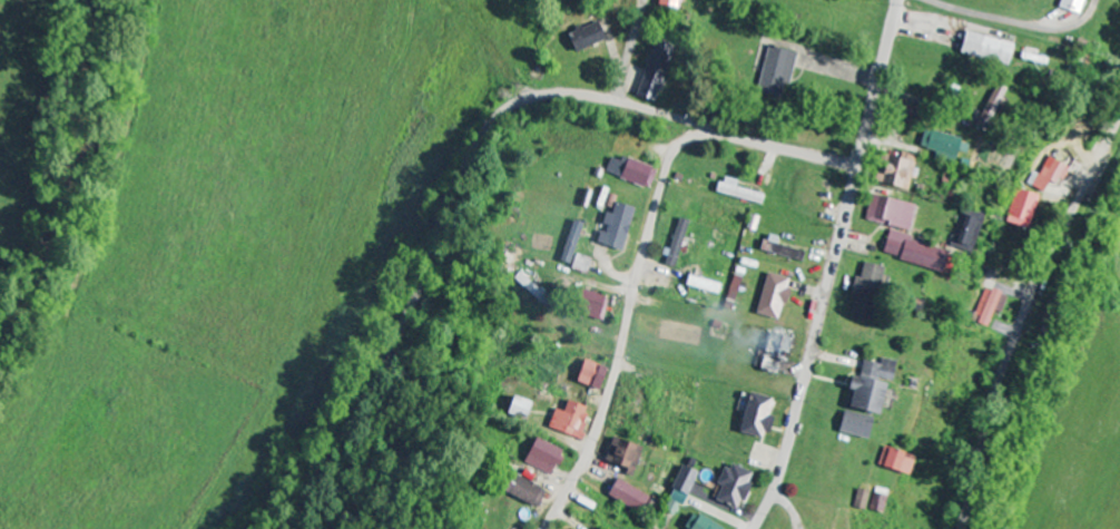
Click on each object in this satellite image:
building: (666, 3)
building: (1070, 6)
building: (584, 37)
building: (984, 48)
road: (630, 50)
building: (773, 71)
building: (654, 72)
building: (994, 102)
building: (942, 145)
road: (471, 153)
building: (894, 172)
building: (630, 173)
river: (66, 175)
building: (1049, 176)
building: (738, 192)
building: (1023, 209)
building: (888, 214)
building: (612, 227)
building: (966, 232)
building: (569, 243)
building: (913, 252)
building: (579, 264)
road: (833, 266)
building: (701, 285)
building: (865, 291)
building: (770, 297)
building: (587, 304)
building: (913, 304)
building: (990, 306)
road: (627, 317)
road: (1023, 317)
building: (774, 352)
building: (589, 375)
building: (864, 398)
building: (517, 409)
building: (754, 418)
building: (566, 419)
building: (621, 455)
building: (542, 458)
building: (894, 461)
building: (731, 487)
building: (518, 490)
building: (679, 491)
building: (627, 497)
building: (701, 525)

